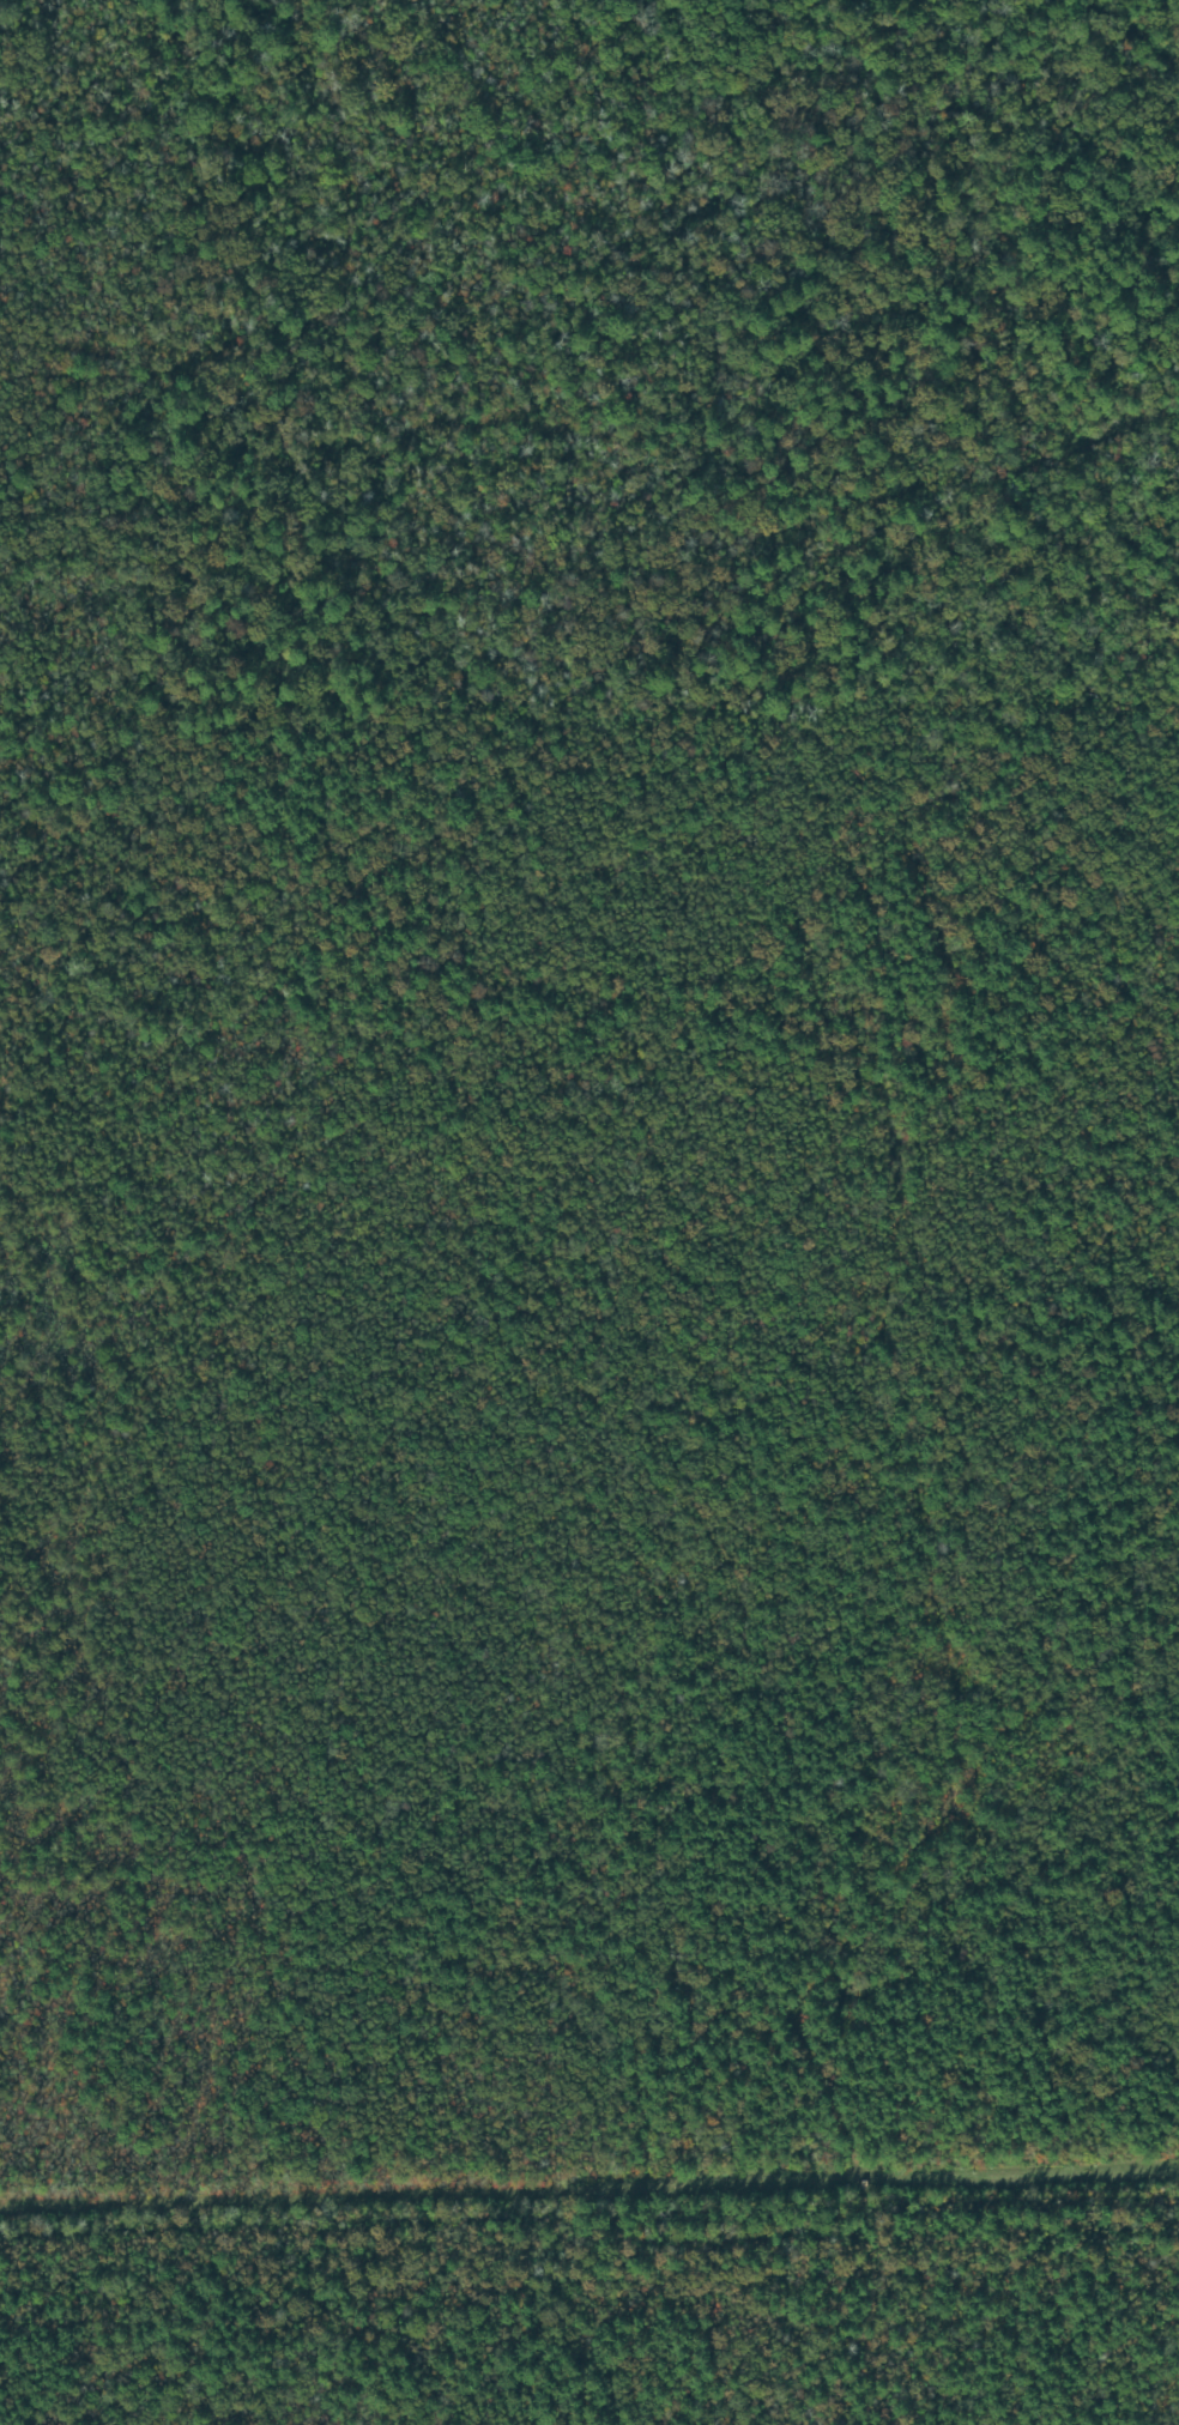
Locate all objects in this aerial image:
road: (589, 2190)

